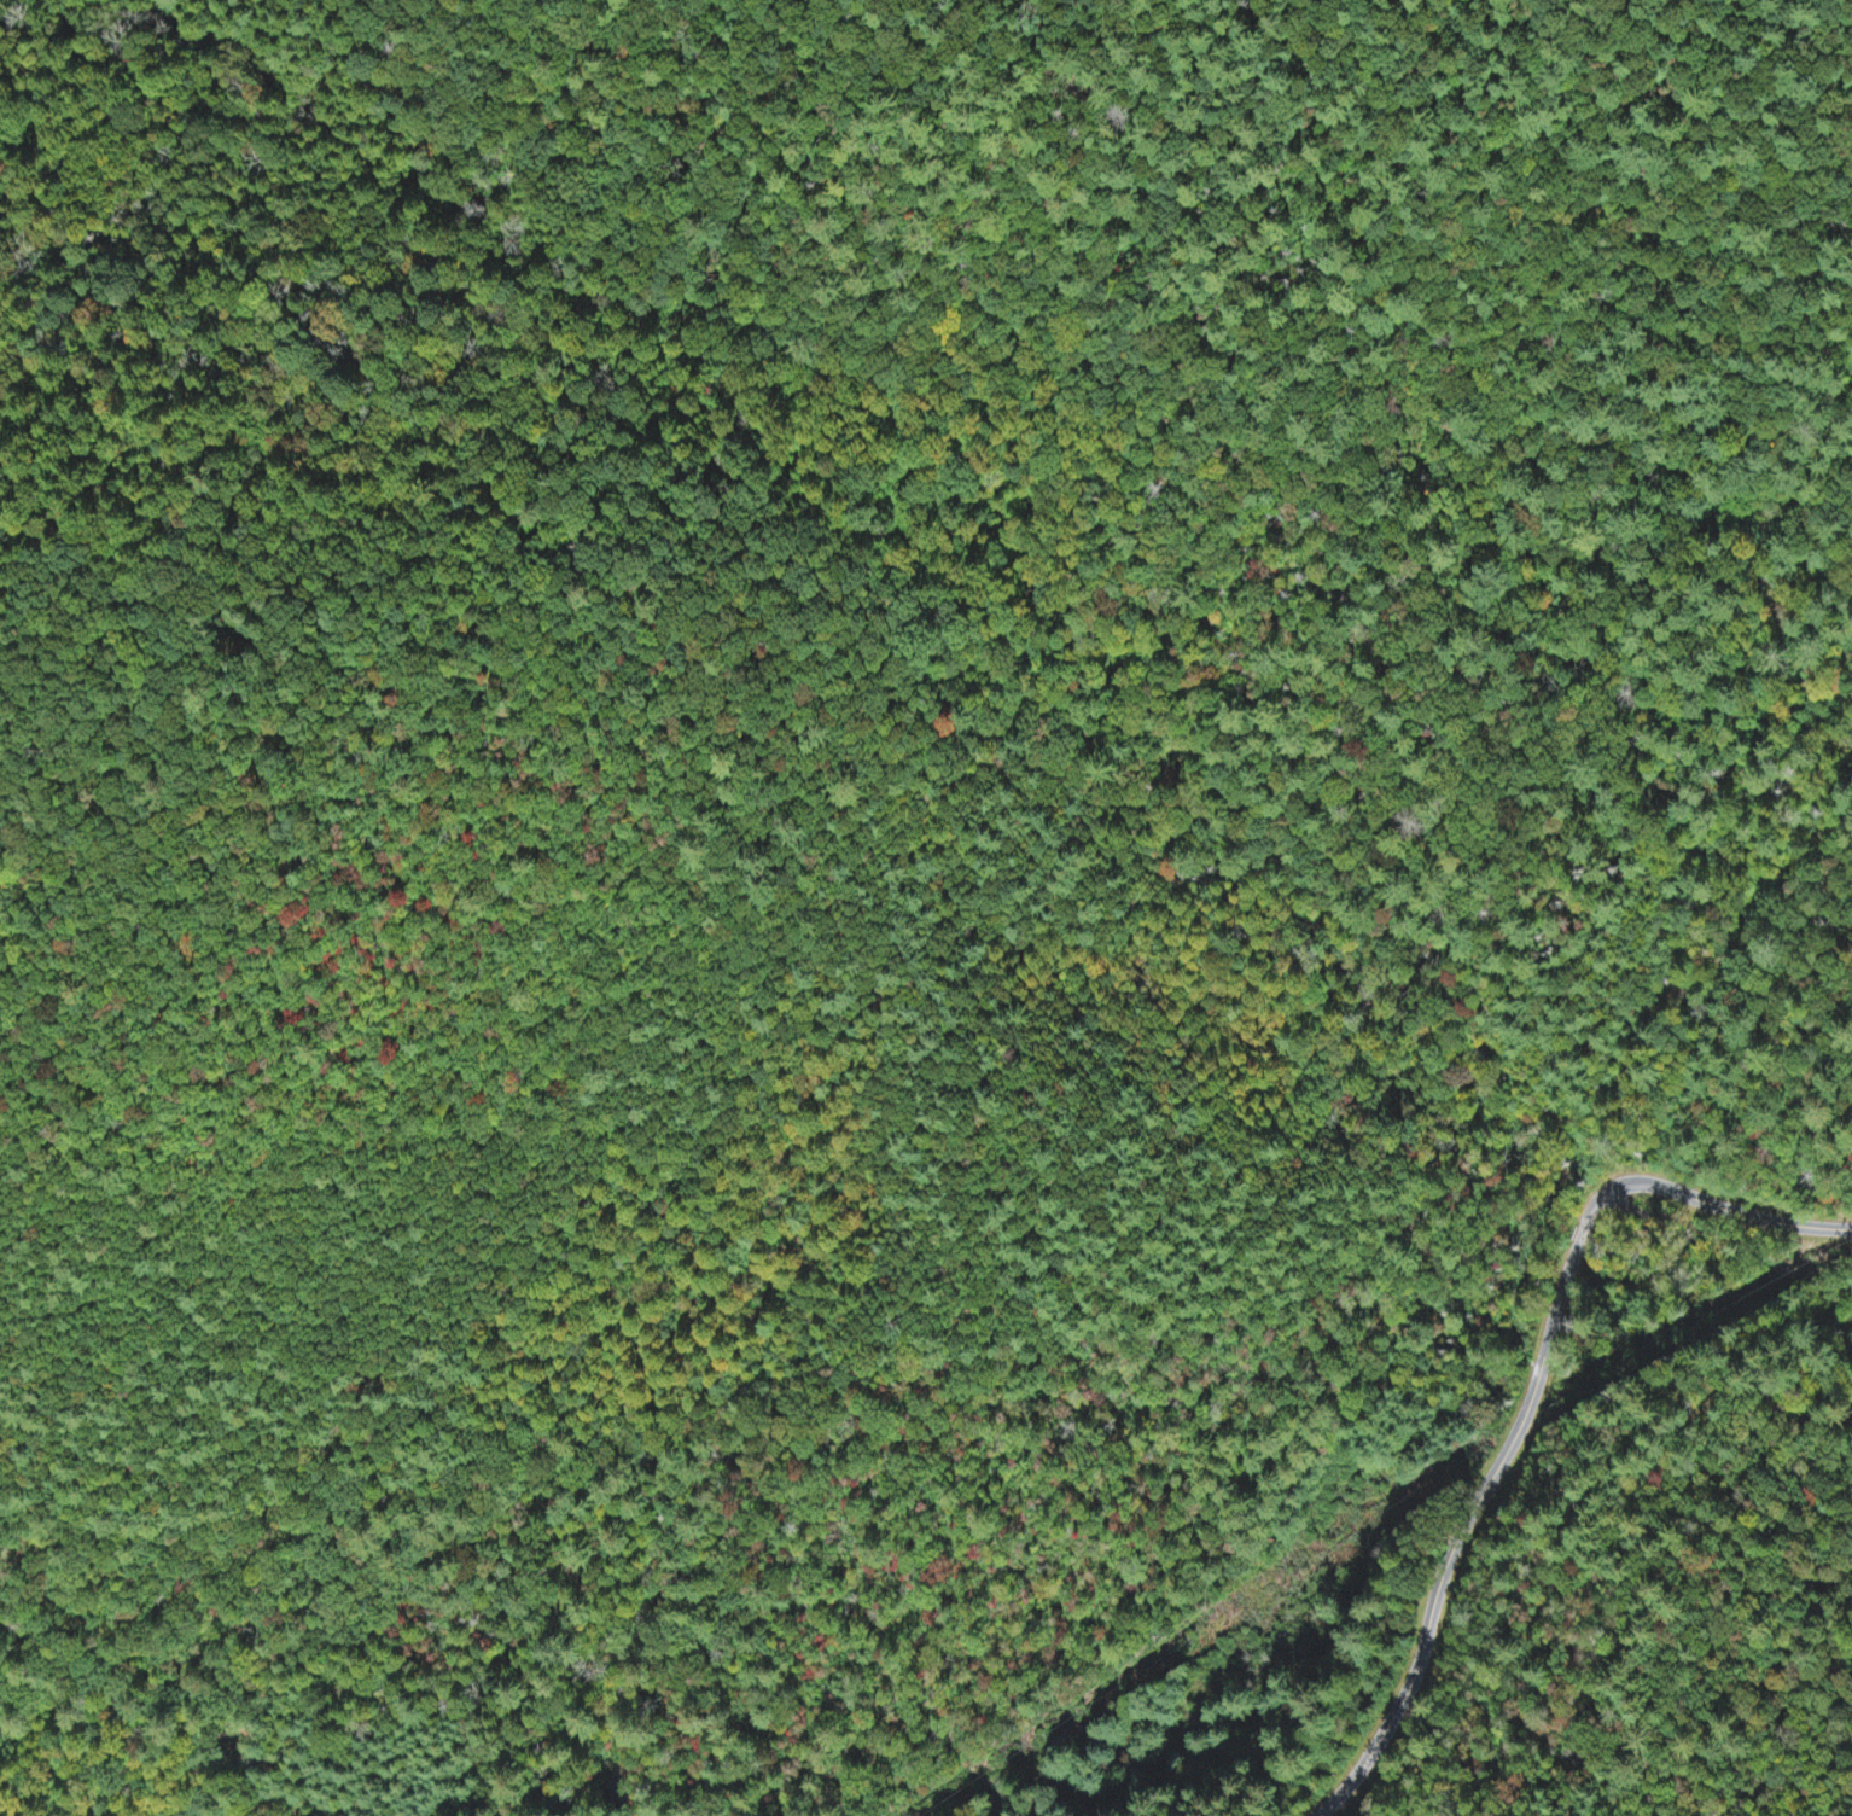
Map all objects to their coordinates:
road: (1710, 1203)
road: (1648, 1213)
road: (1583, 1230)
road: (1771, 1261)
road: (1460, 1536)

